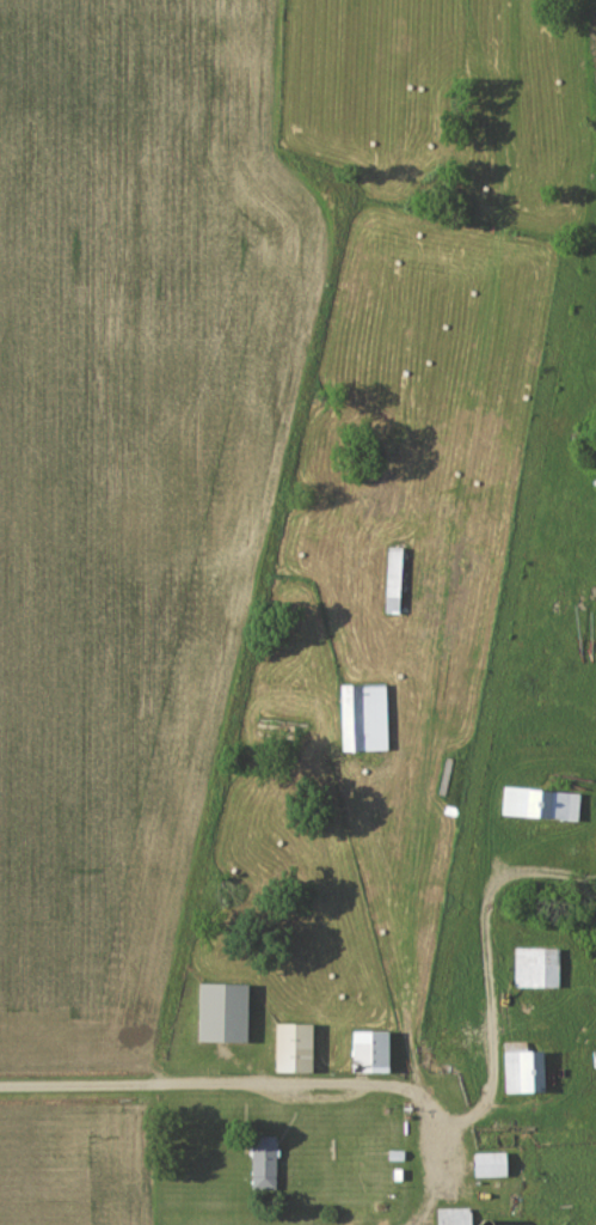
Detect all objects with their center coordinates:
building: (397, 579)
building: (367, 718)
building: (543, 803)
building: (540, 968)
building: (225, 1011)
building: (294, 1047)
building: (373, 1052)
building: (526, 1068)
road: (264, 1086)
building: (399, 1154)
building: (266, 1163)
building: (496, 1165)
building: (459, 1215)

